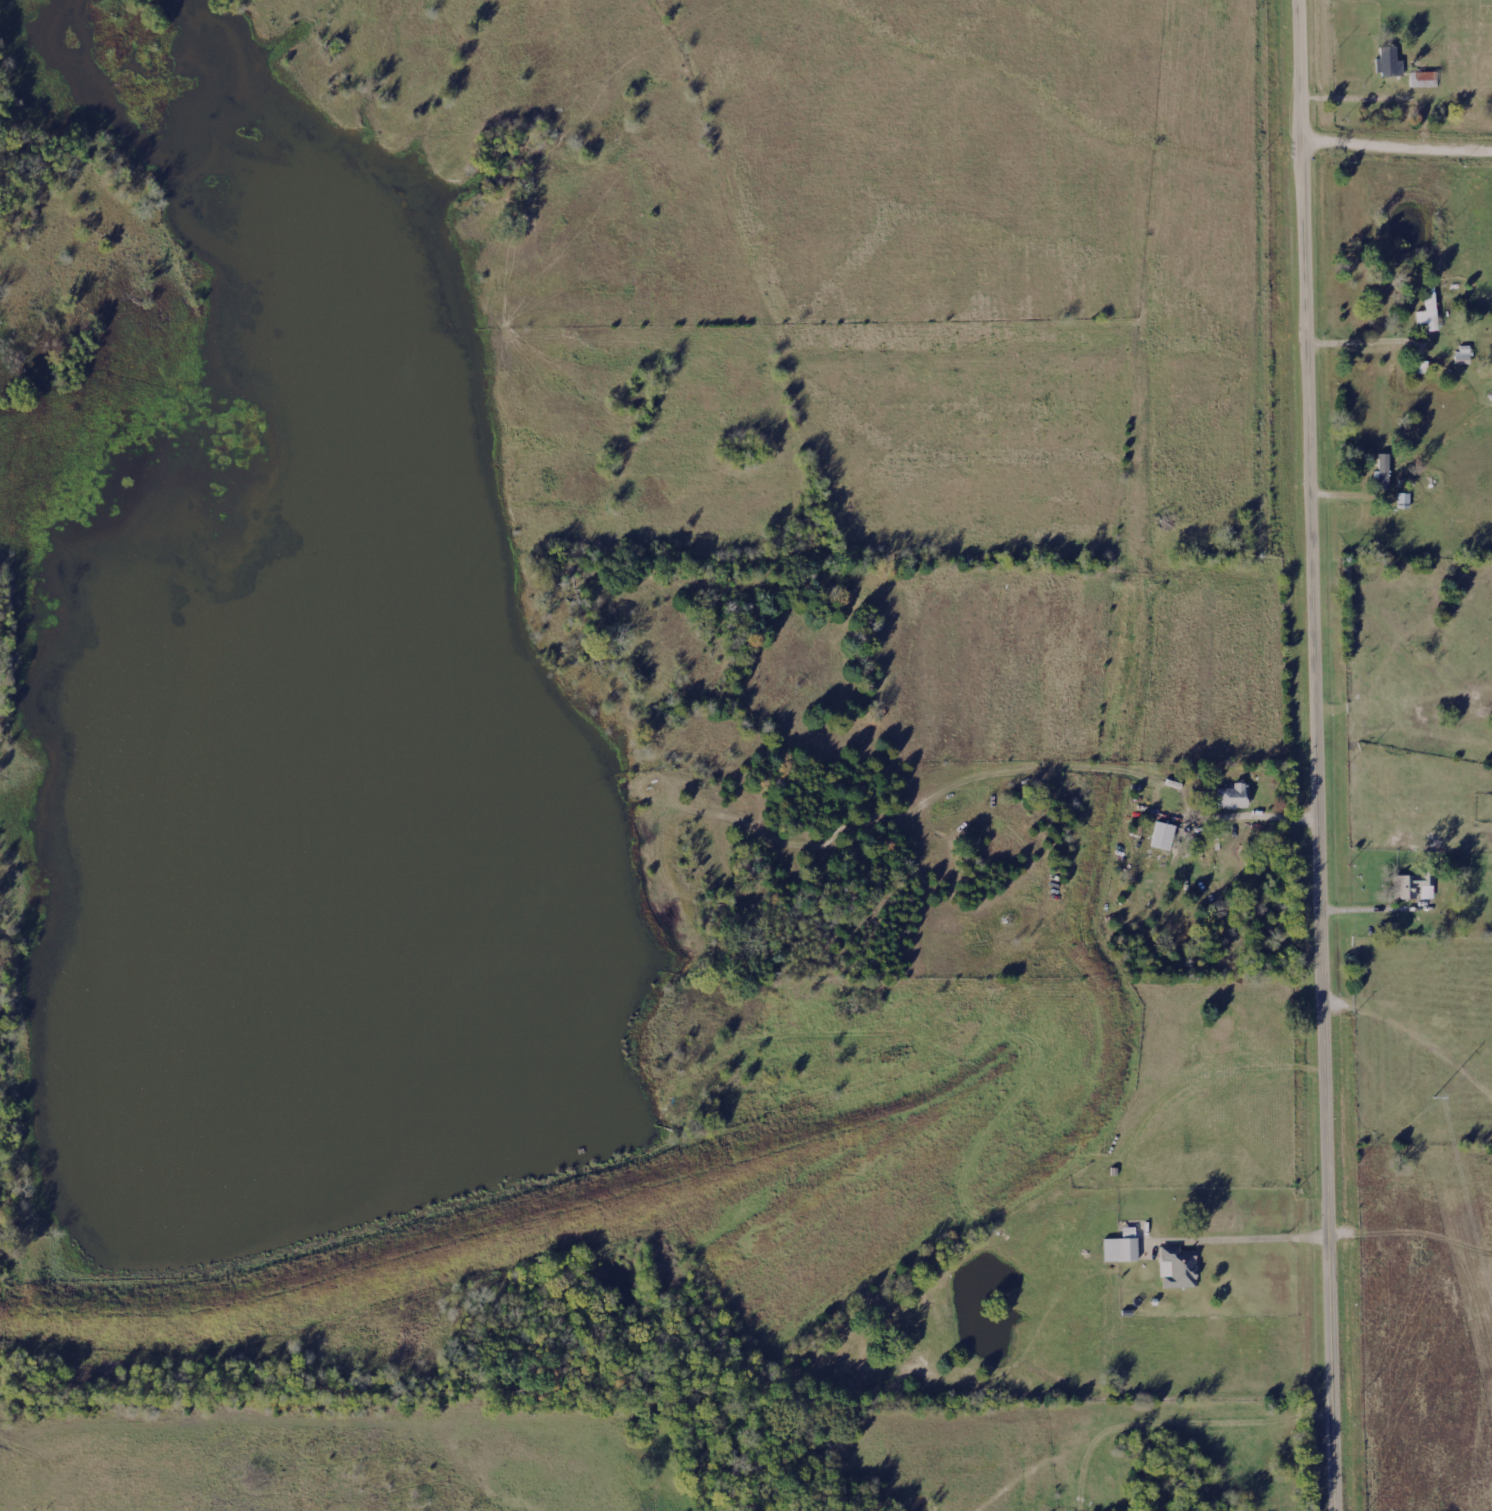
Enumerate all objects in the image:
building: (1384, 63)
building: (1420, 82)
road: (1356, 90)
road: (1397, 135)
building: (1427, 312)
road: (1399, 343)
building: (1460, 357)
building: (1381, 474)
road: (1325, 755)
building: (1230, 799)
road: (1264, 812)
building: (1159, 838)
building: (1413, 888)
road: (1364, 904)
road: (1411, 1149)
road: (1254, 1229)
building: (1118, 1249)
building: (1175, 1271)
road: (1176, 1423)

